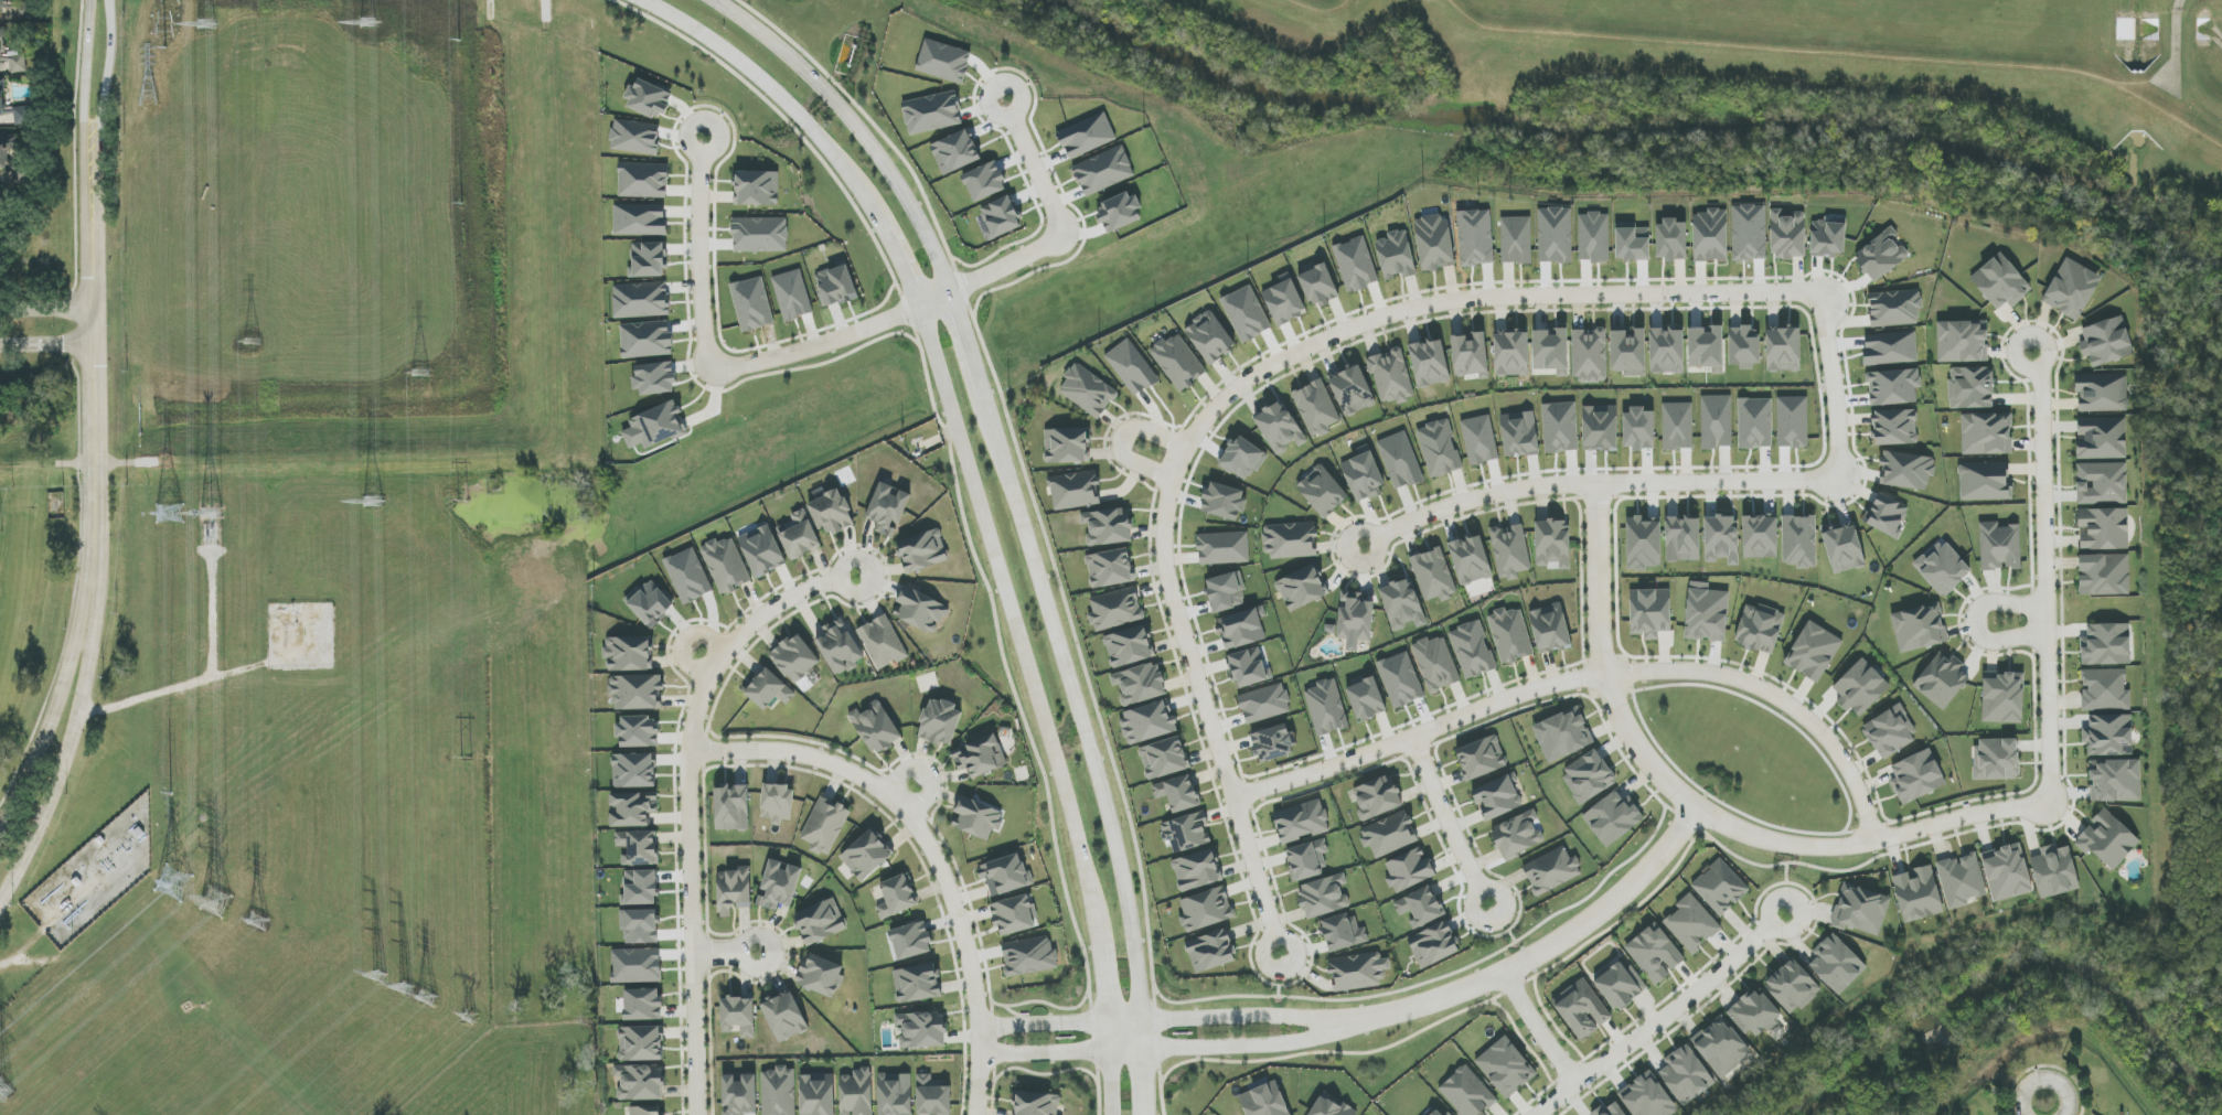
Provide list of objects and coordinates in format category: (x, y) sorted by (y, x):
building: (1, 7)
power tower: (367, 24)
power tower: (205, 26)
road: (2176, 44)
building: (10, 56)
power tower: (165, 62)
building: (943, 62)
road: (765, 82)
road: (107, 94)
building: (2, 96)
building: (649, 99)
road: (1018, 106)
building: (932, 112)
building: (22, 116)
road: (87, 122)
road: (856, 124)
building: (1087, 136)
building: (634, 137)
building: (955, 151)
road: (713, 152)
building: (1089, 170)
road: (1036, 173)
building: (643, 180)
building: (984, 182)
building: (757, 187)
building: (1, 200)
power tower: (461, 205)
road: (99, 217)
building: (640, 219)
building: (1749, 233)
building: (1555, 235)
building: (1787, 235)
building: (1710, 236)
building: (1475, 237)
building: (1594, 237)
building: (1828, 238)
building: (1671, 239)
building: (1516, 240)
building: (1434, 243)
road: (895, 253)
building: (1396, 255)
building: (1881, 255)
road: (697, 261)
road: (1002, 265)
building: (1356, 265)
building: (2000, 282)
building: (1318, 285)
building: (835, 286)
building: (2071, 289)
road: (302, 298)
building: (1284, 300)
building: (1894, 308)
road: (50, 312)
building: (1209, 337)
road: (834, 341)
building: (1962, 341)
power tower: (253, 342)
building: (2106, 342)
road: (50, 346)
building: (1744, 347)
road: (968, 349)
building: (1706, 349)
building: (1890, 349)
building: (1783, 350)
building: (1551, 351)
building: (1667, 351)
building: (1628, 352)
building: (1511, 354)
building: (1470, 355)
building: (1590, 355)
building: (1177, 362)
building: (1430, 364)
road: (2043, 364)
building: (1132, 367)
power tower: (424, 372)
building: (1391, 376)
road: (1831, 380)
road: (1240, 384)
power tower: (169, 385)
building: (1893, 387)
building: (1970, 387)
building: (1088, 390)
building: (1352, 390)
building: (2102, 393)
building: (1315, 408)
road: (99, 416)
building: (1716, 421)
building: (1792, 421)
building: (1755, 424)
building: (658, 425)
building: (1677, 426)
building: (1560, 427)
building: (1894, 427)
building: (1279, 428)
building: (1600, 428)
building: (1638, 429)
building: (1986, 433)
building: (1519, 435)
building: (2101, 438)
road: (1122, 440)
building: (1479, 440)
building: (1066, 446)
building: (1439, 449)
building: (1400, 460)
building: (1906, 470)
building: (1363, 474)
building: (1984, 481)
road: (1604, 483)
building: (2101, 483)
building: (1075, 491)
building: (1322, 491)
power tower: (464, 501)
power tower: (374, 502)
building: (1224, 502)
building: (888, 508)
building: (832, 513)
power tower: (211, 515)
building: (1887, 515)
building: (1108, 526)
road: (1368, 528)
building: (2104, 528)
building: (799, 535)
building: (1760, 537)
building: (1682, 539)
building: (1721, 539)
building: (1290, 540)
building: (1799, 542)
building: (1552, 544)
building: (1643, 544)
building: (1999, 546)
building: (1222, 548)
building: (1844, 549)
building: (761, 550)
building: (922, 551)
building: (1510, 551)
building: (1470, 559)
road: (846, 561)
building: (726, 565)
building: (1110, 568)
building: (1942, 568)
building: (1433, 575)
building: (2104, 575)
road: (2047, 583)
building: (1301, 588)
road: (872, 603)
building: (1402, 604)
road: (1013, 607)
building: (920, 610)
building: (1115, 610)
building: (1651, 612)
building: (1706, 613)
road: (212, 617)
building: (1355, 618)
road: (1974, 620)
building: (1919, 628)
building: (1240, 629)
building: (1550, 629)
building: (1760, 629)
power tower: (173, 635)
building: (1510, 635)
road: (685, 642)
building: (883, 642)
building: (2106, 645)
building: (840, 646)
building: (1129, 646)
building: (1472, 650)
building: (1813, 652)
building: (628, 653)
building: (795, 658)
building: (1435, 664)
building: (1248, 667)
road: (1587, 677)
building: (1400, 679)
building: (1942, 680)
road: (222, 682)
road: (1619, 683)
building: (1140, 684)
building: (1860, 688)
building: (768, 689)
building: (2105, 689)
building: (635, 691)
building: (1365, 698)
building: (2002, 698)
building: (1264, 704)
building: (1326, 707)
road: (54, 709)
road: (1080, 709)
building: (940, 722)
building: (1146, 723)
building: (876, 728)
building: (1890, 731)
building: (1561, 736)
building: (2108, 736)
building: (1273, 743)
road: (65, 747)
road: (705, 751)
building: (980, 757)
building: (1164, 758)
building: (1481, 758)
power tower: (469, 759)
building: (1996, 759)
road: (703, 769)
road: (927, 772)
building: (1589, 776)
building: (1916, 776)
road: (190, 779)
building: (2115, 781)
building: (1177, 793)
building: (1377, 797)
building: (1497, 797)
building: (777, 803)
building: (731, 808)
building: (632, 810)
road: (1701, 810)
road: (691, 811)
road: (1444, 813)
building: (976, 818)
building: (1613, 818)
building: (1301, 822)
building: (824, 826)
road: (934, 828)
road: (1812, 832)
building: (1185, 833)
building: (1389, 834)
building: (1517, 835)
building: (2107, 839)
building: (638, 847)
road: (930, 848)
building: (866, 856)
building: (1306, 860)
road: (921, 864)
building: (1409, 869)
building: (1196, 870)
building: (1551, 870)
building: (2054, 871)
building: (2006, 872)
building: (1005, 875)
building: (1961, 880)
power tower: (173, 881)
building: (779, 886)
road: (1492, 887)
building: (640, 888)
building: (1720, 888)
building: (733, 891)
building: (1917, 893)
building: (896, 897)
building: (1323, 897)
power tower: (215, 901)
building: (1420, 907)
building: (1206, 910)
building: (1860, 910)
building: (1013, 915)
road: (309, 921)
building: (820, 922)
power tower: (260, 923)
building: (1691, 924)
road: (1784, 932)
building: (1342, 933)
road: (104, 934)
road: (749, 937)
road: (1285, 939)
building: (910, 941)
road: (707, 943)
road: (1551, 944)
building: (1433, 945)
road: (789, 951)
building: (1210, 951)
road: (718, 954)
building: (1655, 954)
building: (1029, 956)
building: (1836, 964)
building: (1357, 972)
building: (821, 976)
road: (1104, 979)
power tower: (385, 982)
building: (917, 984)
building: (1620, 985)
building: (1793, 987)
power tower: (405, 990)
power tower: (430, 998)
building: (642, 1005)
building: (1581, 1009)
building: (1754, 1014)
building: (738, 1016)
building: (784, 1017)
road: (1171, 1017)
power tower: (470, 1018)
road: (1656, 1022)
road: (1538, 1027)
building: (921, 1029)
building: (640, 1043)
building: (1721, 1047)
road: (1173, 1048)
road: (1143, 1066)
road: (1158, 1066)
building: (1506, 1068)
road: (1045, 1074)
building: (1686, 1075)
building: (640, 1082)
road: (1112, 1082)
power tower: (2, 1089)
building: (779, 1092)
building: (856, 1093)
building: (1467, 1093)
building: (739, 1094)
building: (816, 1094)
building: (895, 1094)
building: (932, 1096)
building: (1647, 1096)
building: (1264, 1101)
building: (1036, 1104)
building: (1329, 1107)
road: (2043, 1107)
building: (647, 1111)
building: (1609, 1111)
building: (1439, 1112)

